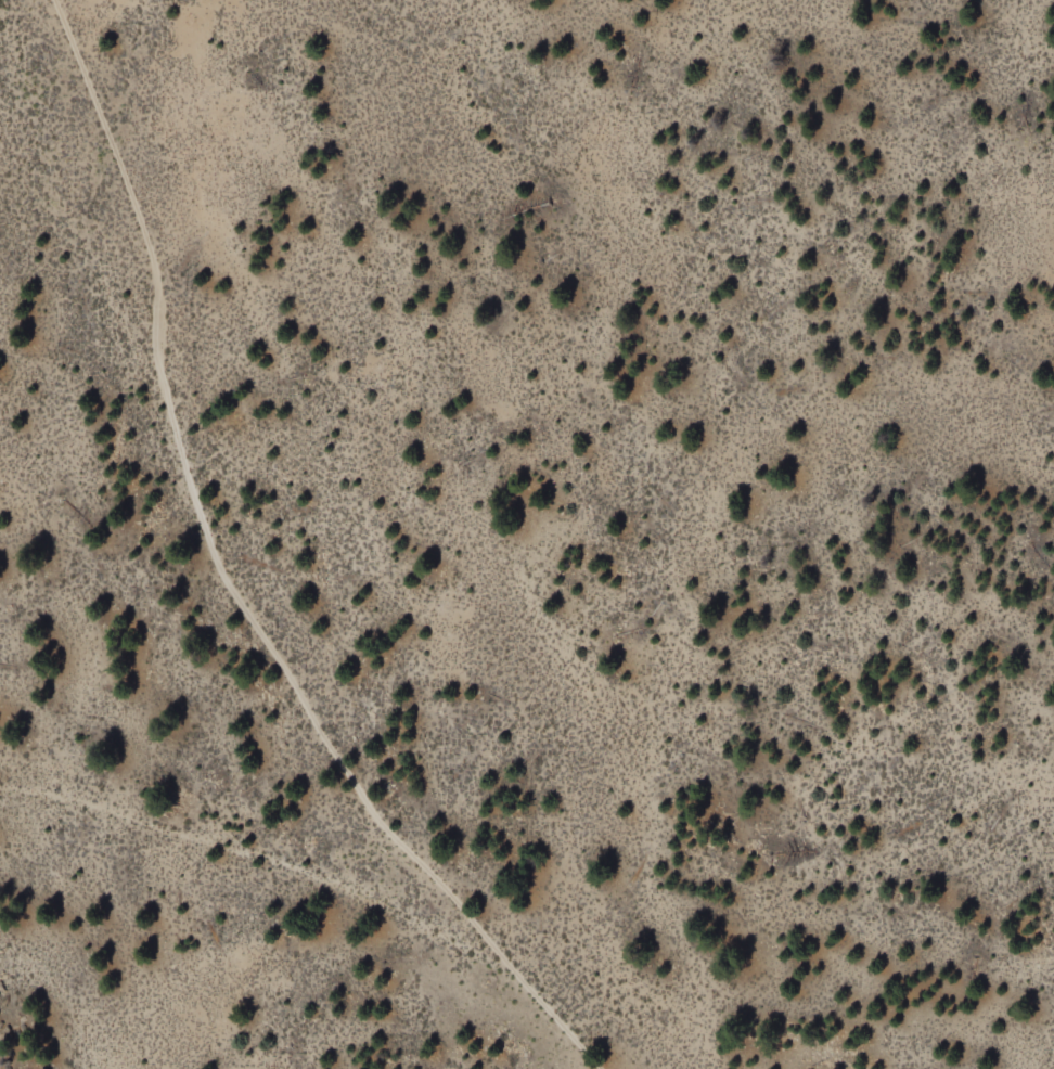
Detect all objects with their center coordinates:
road: (229, 582)
road: (252, 875)

